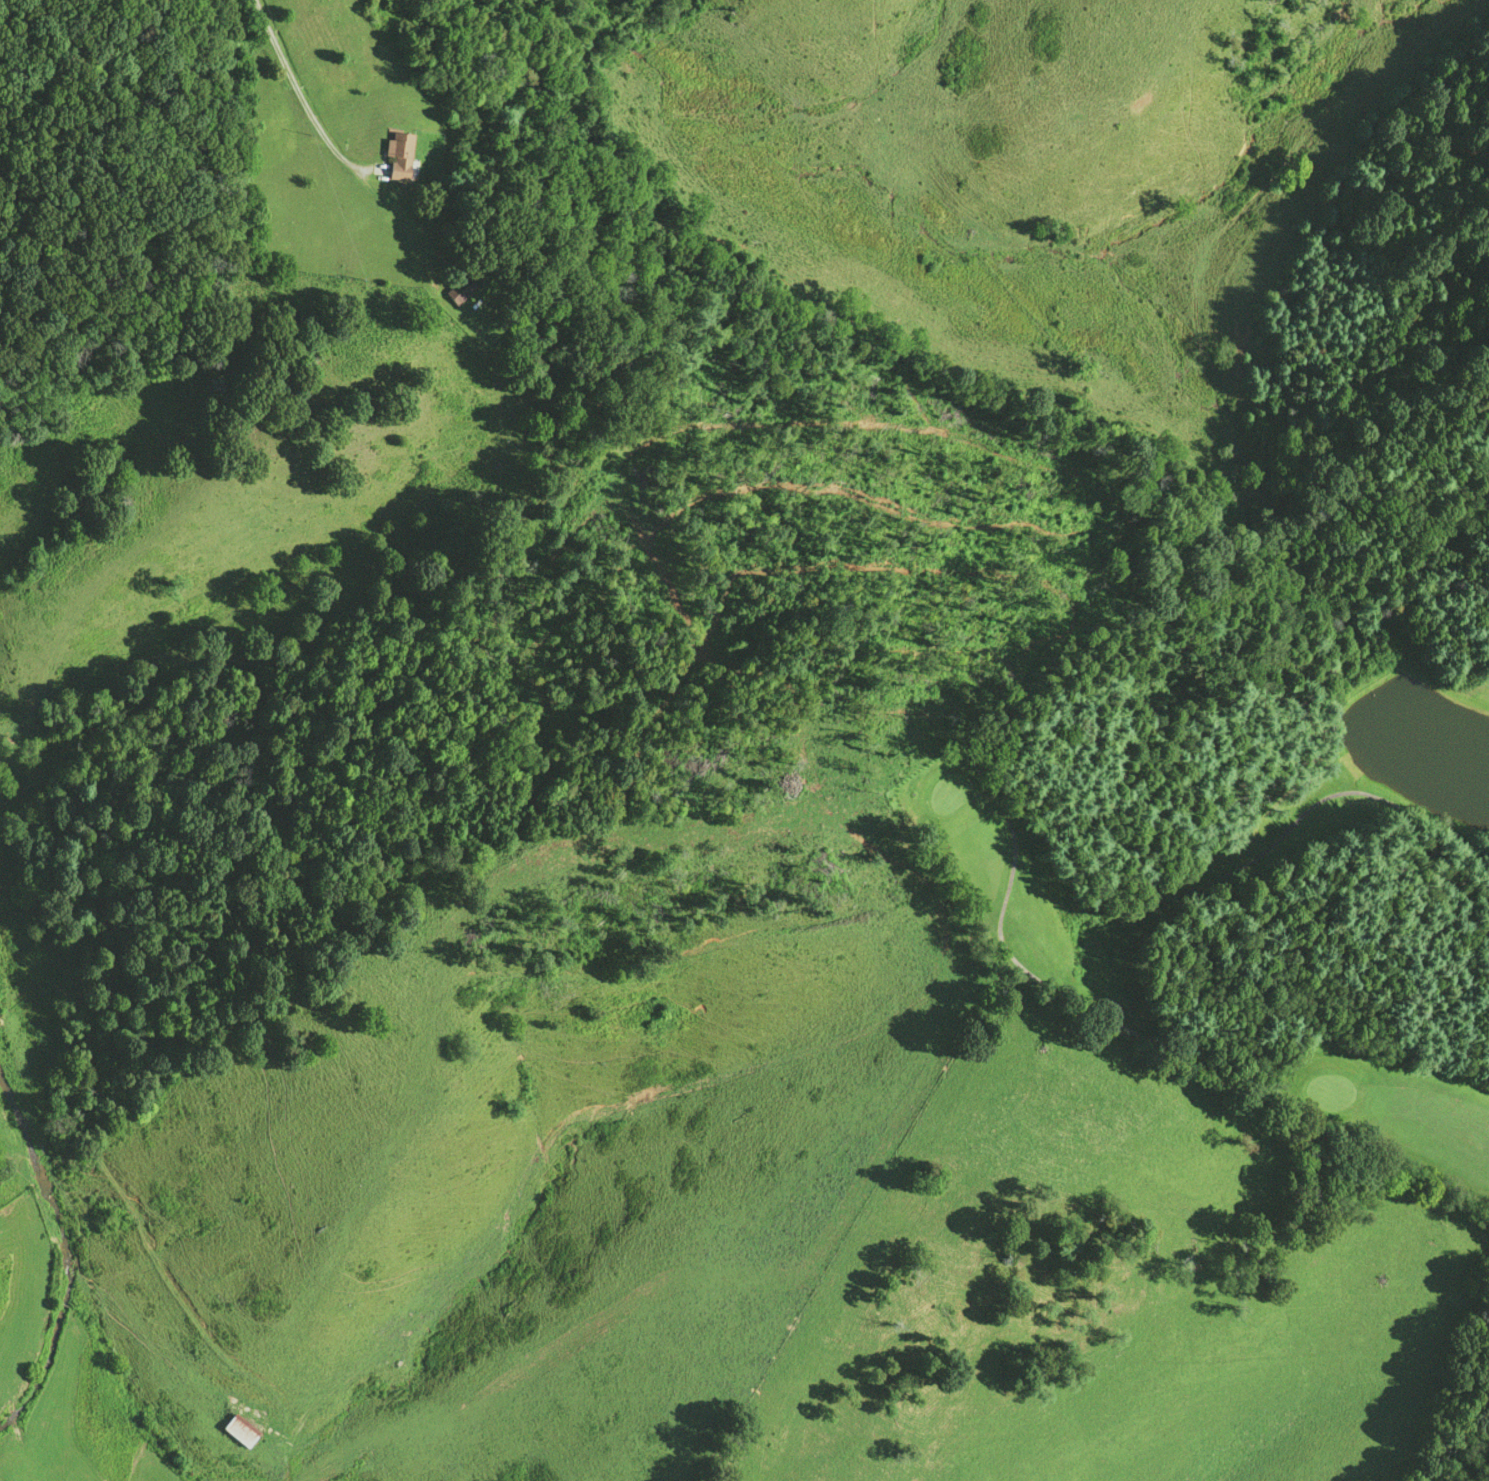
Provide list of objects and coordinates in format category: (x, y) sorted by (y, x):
road: (296, 89)
building: (400, 155)
building: (460, 289)
park: (1267, 814)
building: (237, 1429)

